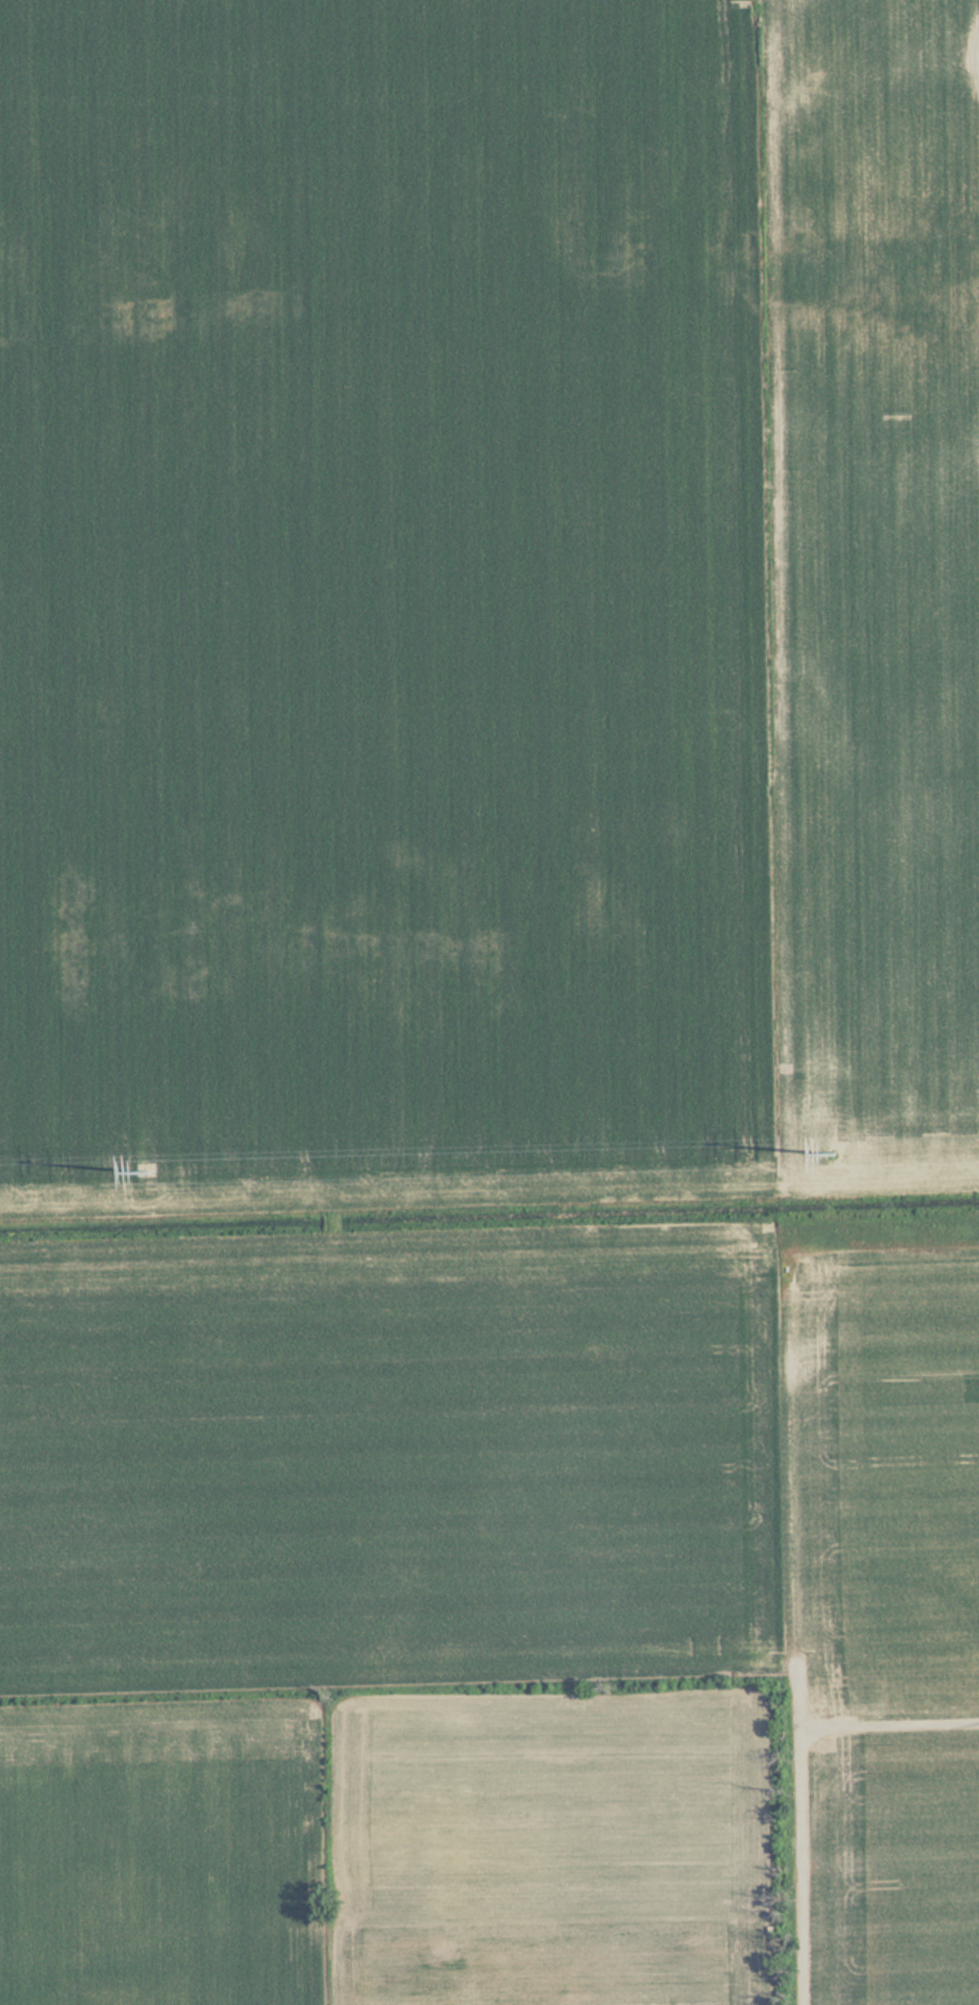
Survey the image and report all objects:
power tower: (839, 1133)
power tower: (155, 1153)
road: (797, 1768)

